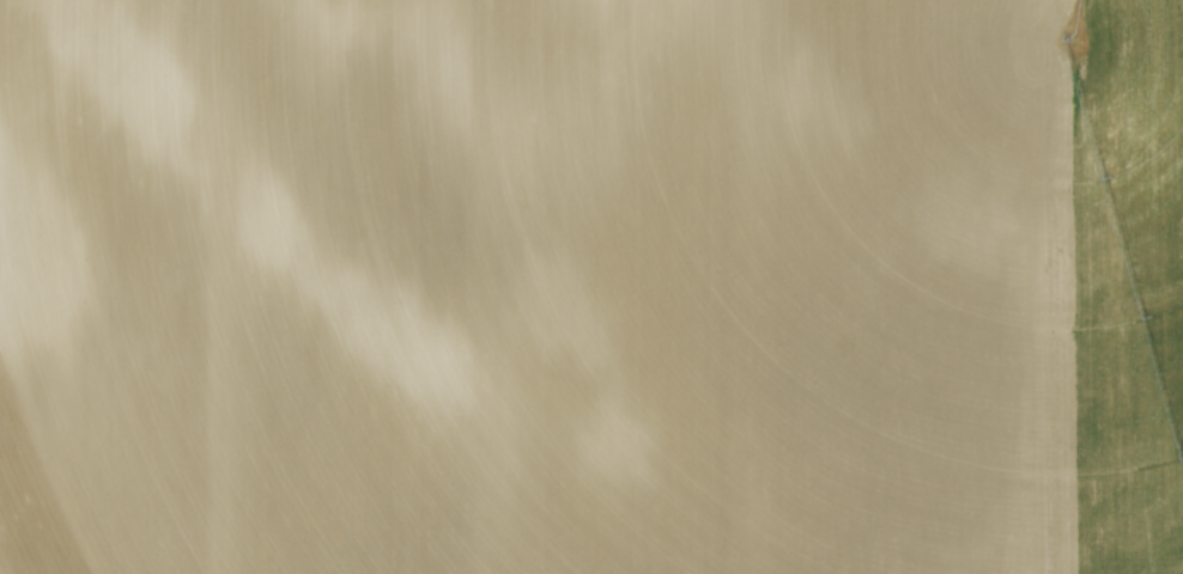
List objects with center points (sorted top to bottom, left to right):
crop: (591, 287)

